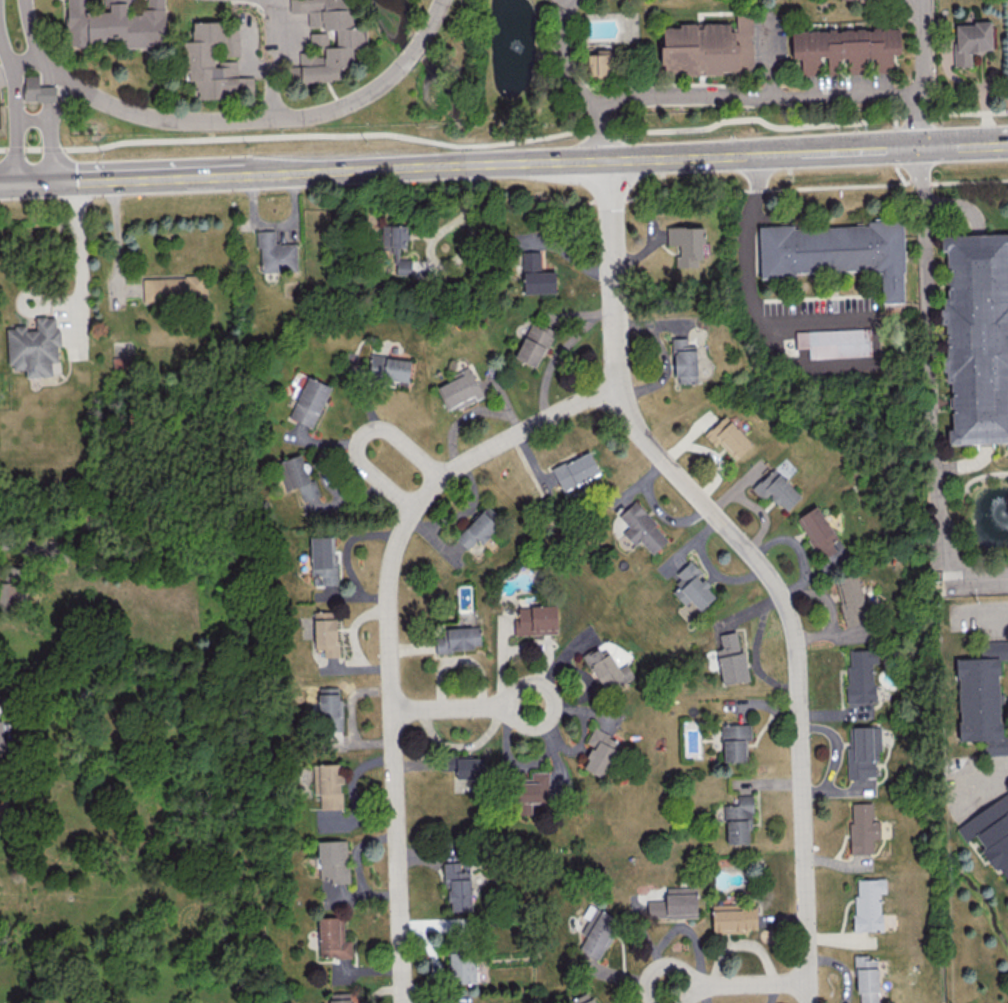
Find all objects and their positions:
building: (841, 0)
road: (261, 2)
road: (552, 5)
road: (562, 5)
road: (432, 22)
building: (116, 23)
road: (30, 31)
building: (348, 38)
building: (970, 40)
building: (708, 47)
building: (845, 48)
road: (412, 52)
building: (198, 58)
road: (281, 59)
road: (24, 61)
building: (598, 63)
road: (770, 67)
road: (921, 72)
road: (569, 86)
building: (37, 89)
road: (760, 102)
road: (17, 110)
road: (53, 116)
road: (50, 121)
road: (223, 122)
road: (965, 142)
road: (506, 143)
traffic signals: (923, 144)
road: (861, 146)
road: (705, 153)
road: (432, 164)
road: (233, 173)
road: (136, 177)
traffic signals: (58, 181)
road: (36, 182)
road: (7, 183)
road: (796, 188)
road: (961, 204)
road: (924, 224)
road: (115, 235)
road: (81, 243)
building: (686, 244)
road: (429, 246)
building: (836, 252)
building: (275, 253)
building: (535, 274)
building: (174, 288)
road: (749, 297)
building: (976, 336)
building: (834, 342)
building: (533, 344)
building: (34, 347)
building: (684, 361)
building: (120, 364)
building: (389, 369)
building: (460, 389)
building: (309, 401)
building: (728, 436)
road: (362, 437)
road: (968, 464)
road: (933, 468)
building: (575, 470)
building: (299, 477)
road: (971, 482)
building: (776, 489)
fountain: (1004, 513)
building: (479, 527)
building: (641, 528)
building: (817, 531)
road: (11, 546)
building: (323, 558)
road: (755, 560)
building: (691, 587)
building: (11, 595)
building: (851, 599)
road: (985, 615)
building: (535, 620)
building: (325, 632)
road: (389, 632)
building: (457, 639)
building: (730, 658)
building: (606, 668)
building: (860, 675)
building: (981, 697)
building: (329, 708)
road: (461, 708)
building: (0, 732)
building: (734, 741)
building: (599, 752)
building: (863, 753)
building: (464, 772)
road: (984, 779)
building: (329, 785)
building: (530, 792)
building: (738, 820)
building: (862, 827)
building: (990, 832)
building: (332, 860)
building: (458, 885)
building: (674, 903)
building: (868, 903)
building: (733, 918)
building: (598, 932)
building: (332, 938)
building: (462, 965)
road: (842, 968)
building: (866, 979)
road: (737, 985)
building: (340, 997)
building: (583, 998)

